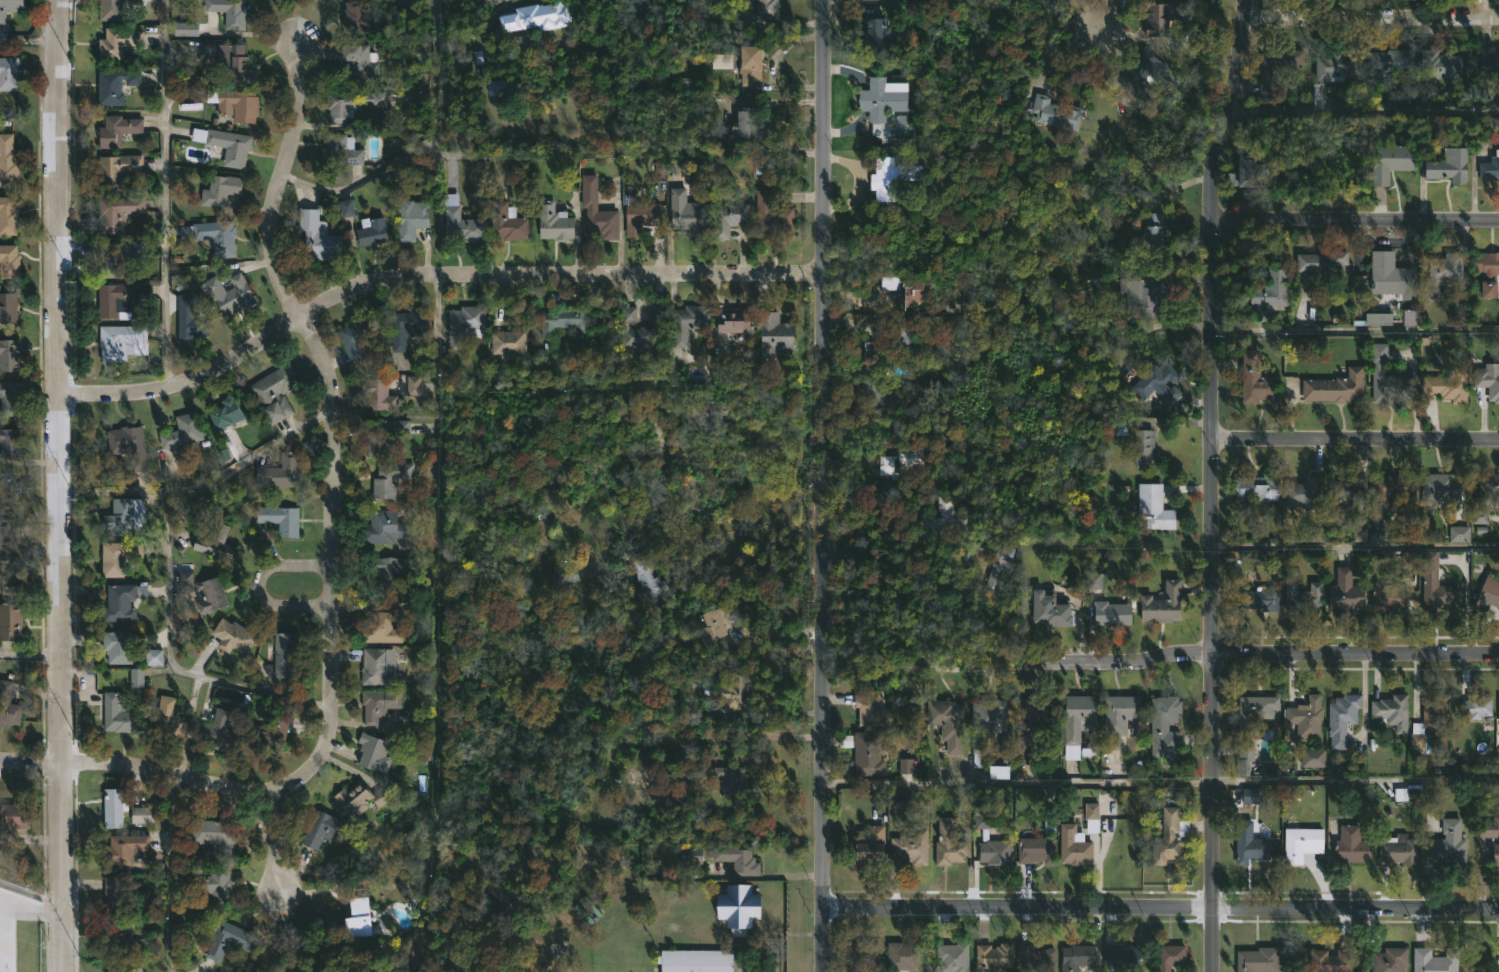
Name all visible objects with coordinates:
building: (9, 8)
building: (115, 9)
building: (768, 10)
building: (229, 12)
road: (1096, 15)
building: (353, 17)
building: (1164, 18)
building: (534, 20)
road: (1370, 20)
building: (185, 29)
building: (878, 33)
road: (30, 41)
building: (118, 43)
building: (353, 58)
building: (234, 61)
building: (721, 61)
building: (1379, 62)
building: (1488, 62)
building: (1438, 65)
building: (753, 66)
building: (1337, 66)
building: (1278, 68)
building: (9, 72)
building: (1141, 76)
building: (116, 86)
building: (500, 87)
building: (884, 97)
building: (239, 104)
building: (350, 104)
building: (1049, 111)
building: (901, 119)
building: (743, 127)
building: (117, 130)
building: (225, 144)
road: (423, 147)
building: (337, 154)
building: (8, 160)
building: (1389, 161)
building: (769, 165)
building: (1449, 165)
building: (1489, 166)
building: (117, 169)
building: (1252, 172)
building: (890, 178)
building: (221, 189)
road: (164, 193)
building: (686, 206)
building: (346, 208)
building: (597, 210)
building: (117, 212)
building: (8, 216)
building: (641, 216)
building: (773, 217)
building: (411, 218)
building: (504, 218)
building: (727, 219)
building: (460, 221)
road: (1355, 221)
building: (552, 222)
building: (373, 230)
building: (1151, 230)
building: (316, 235)
building: (215, 236)
building: (117, 257)
building: (9, 261)
building: (1322, 263)
building: (1441, 272)
road: (428, 274)
building: (1488, 274)
building: (1391, 276)
building: (1146, 291)
building: (906, 292)
building: (1266, 292)
building: (230, 294)
building: (122, 298)
building: (8, 307)
building: (190, 318)
building: (1377, 318)
building: (1409, 318)
building: (560, 321)
building: (733, 321)
building: (685, 325)
building: (404, 327)
building: (636, 331)
building: (778, 334)
building: (453, 338)
building: (903, 338)
building: (354, 339)
building: (506, 342)
building: (122, 343)
building: (9, 354)
building: (1385, 377)
building: (1254, 379)
road: (60, 380)
building: (1488, 381)
building: (1154, 383)
building: (413, 385)
building: (870, 386)
building: (1447, 386)
building: (1334, 388)
building: (275, 393)
building: (379, 394)
building: (10, 398)
building: (226, 414)
building: (695, 415)
building: (384, 434)
building: (180, 438)
road: (1355, 441)
building: (10, 443)
building: (129, 446)
building: (1143, 449)
road: (727, 457)
building: (903, 460)
building: (281, 472)
building: (391, 479)
road: (1211, 484)
building: (1488, 485)
road: (821, 486)
building: (9, 487)
building: (1256, 488)
building: (1442, 488)
building: (1344, 492)
building: (1387, 493)
building: (1303, 494)
building: (1156, 508)
building: (125, 517)
building: (1479, 517)
building: (280, 519)
building: (941, 520)
building: (384, 528)
road: (331, 529)
road: (742, 532)
building: (4, 534)
building: (1458, 534)
building: (1358, 535)
building: (1316, 536)
building: (216, 542)
road: (1355, 543)
building: (118, 556)
building: (617, 560)
building: (1001, 565)
road: (168, 569)
building: (388, 573)
building: (562, 573)
building: (647, 579)
building: (9, 580)
building: (185, 581)
building: (1093, 581)
road: (259, 585)
building: (1434, 585)
building: (1345, 592)
building: (1488, 592)
building: (210, 595)
building: (1249, 597)
building: (1303, 597)
building: (1387, 599)
building: (120, 603)
building: (1164, 603)
building: (1048, 611)
building: (1109, 614)
building: (10, 621)
road: (434, 624)
building: (381, 629)
building: (723, 631)
building: (235, 635)
building: (118, 647)
building: (286, 654)
road: (29, 657)
building: (153, 657)
road: (1160, 658)
building: (379, 666)
building: (136, 678)
building: (729, 688)
building: (379, 702)
building: (8, 706)
building: (1475, 706)
building: (1498, 707)
building: (873, 708)
building: (1390, 711)
building: (118, 714)
building: (692, 714)
building: (1306, 716)
building: (1117, 718)
building: (1166, 718)
building: (1341, 718)
building: (169, 720)
building: (1030, 721)
building: (1429, 722)
building: (1075, 723)
building: (950, 724)
building: (987, 726)
building: (1249, 727)
building: (267, 731)
building: (220, 733)
building: (865, 751)
building: (375, 754)
building: (1312, 758)
road: (29, 761)
building: (905, 766)
building: (998, 772)
building: (666, 774)
building: (636, 776)
building: (733, 779)
road: (1161, 779)
building: (1252, 795)
building: (355, 797)
building: (900, 800)
building: (114, 801)
building: (143, 815)
building: (1090, 816)
building: (12, 820)
building: (1487, 829)
building: (320, 830)
building: (213, 832)
building: (986, 835)
building: (1168, 837)
road: (270, 842)
building: (948, 843)
building: (1248, 843)
building: (1301, 843)
building: (1449, 843)
building: (1072, 844)
building: (868, 845)
building: (909, 846)
building: (1350, 846)
building: (124, 849)
building: (1033, 849)
building: (1398, 849)
building: (1495, 854)
building: (688, 855)
building: (734, 858)
road: (59, 866)
road: (170, 873)
building: (213, 885)
building: (116, 893)
road: (29, 905)
road: (1161, 907)
building: (737, 908)
building: (359, 916)
parking lot: (8, 931)
building: (124, 935)
building: (228, 940)
building: (863, 955)
building: (993, 955)
building: (901, 956)
building: (1173, 956)
building: (952, 957)
building: (1075, 957)
building: (1120, 957)
building: (1034, 958)
building: (696, 960)
building: (1257, 960)
building: (1388, 960)
building: (1433, 960)
building: (1329, 961)
building: (311, 964)

